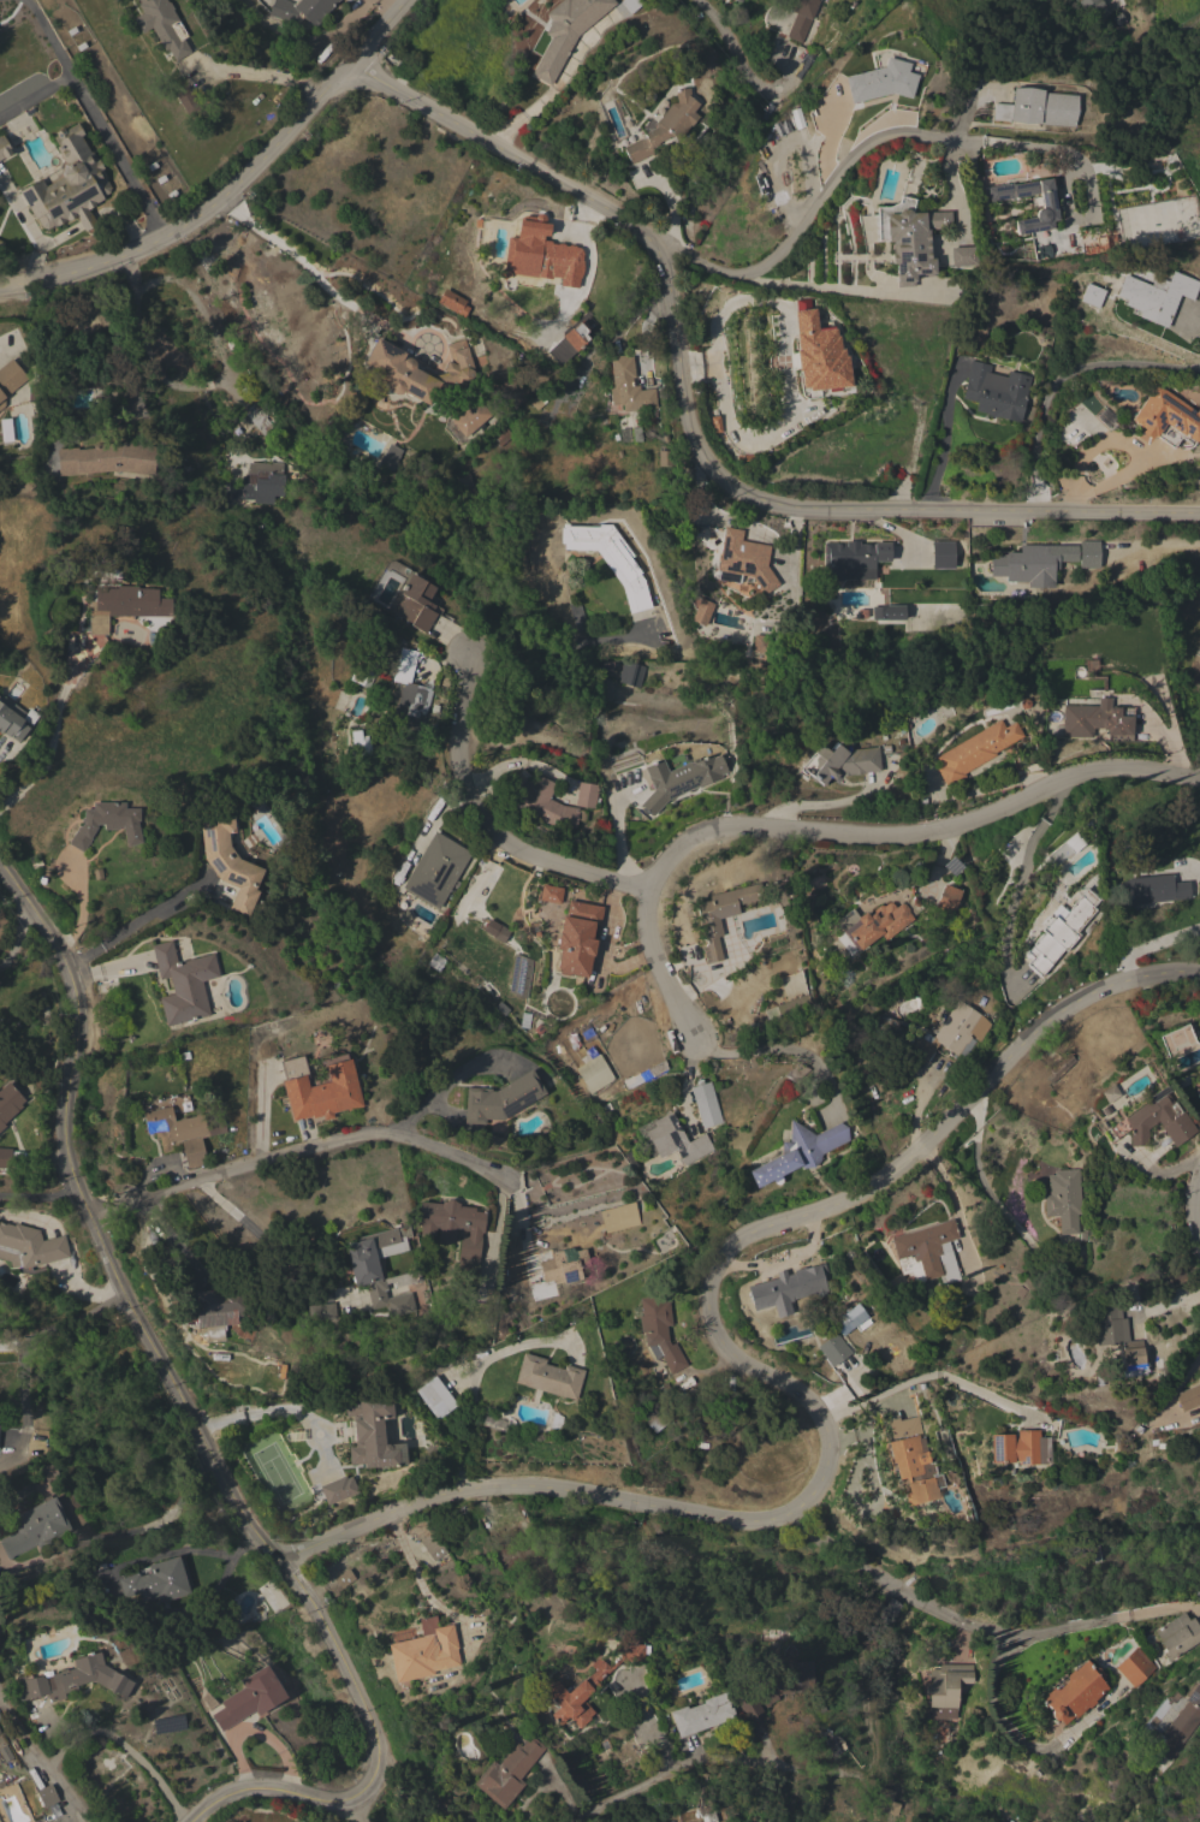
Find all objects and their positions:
road: (1118, 4)
building: (1094, 10)
building: (301, 11)
building: (801, 18)
building: (162, 25)
building: (563, 34)
road: (48, 40)
road: (727, 47)
building: (881, 81)
building: (186, 100)
building: (1036, 108)
road: (97, 121)
building: (665, 125)
road: (822, 125)
road: (789, 138)
road: (868, 142)
building: (4, 148)
building: (69, 184)
road: (233, 188)
building: (1047, 204)
road: (806, 210)
building: (910, 242)
building: (1, 243)
building: (543, 255)
building: (961, 256)
road: (311, 268)
road: (849, 290)
building: (1093, 295)
building: (1157, 295)
road: (195, 301)
building: (453, 302)
building: (107, 311)
building: (575, 336)
road: (91, 338)
building: (819, 354)
building: (398, 370)
building: (10, 379)
road: (1064, 382)
building: (626, 386)
building: (996, 391)
building: (1106, 416)
building: (257, 417)
building: (470, 417)
building: (1166, 417)
building: (500, 435)
road: (690, 435)
road: (945, 443)
building: (388, 457)
building: (664, 457)
building: (107, 458)
building: (259, 482)
building: (462, 491)
building: (941, 554)
building: (1089, 554)
building: (610, 558)
building: (853, 559)
building: (743, 560)
building: (1033, 563)
building: (416, 601)
building: (124, 605)
building: (701, 611)
building: (887, 612)
building: (577, 617)
building: (760, 643)
road: (556, 645)
building: (369, 658)
building: (630, 673)
building: (409, 695)
building: (14, 718)
building: (1095, 719)
road: (52, 737)
building: (360, 744)
building: (975, 750)
building: (840, 761)
building: (423, 777)
building: (679, 779)
building: (587, 795)
building: (540, 800)
road: (809, 803)
building: (107, 823)
road: (486, 827)
road: (834, 830)
building: (1064, 849)
building: (228, 861)
building: (435, 870)
road: (1018, 880)
building: (1153, 889)
building: (549, 894)
building: (947, 900)
building: (721, 915)
road: (129, 924)
building: (878, 924)
building: (492, 930)
road: (17, 936)
building: (1057, 936)
building: (576, 938)
road: (1151, 945)
building: (519, 975)
building: (184, 984)
building: (785, 1009)
building: (954, 1032)
road: (784, 1051)
building: (291, 1067)
building: (594, 1074)
road: (451, 1086)
building: (1196, 1087)
building: (323, 1093)
building: (1107, 1093)
building: (500, 1098)
building: (8, 1102)
building: (706, 1104)
building: (1158, 1121)
building: (1117, 1128)
building: (182, 1133)
building: (677, 1141)
building: (800, 1152)
road: (298, 1153)
building: (5, 1157)
road: (40, 1193)
building: (1064, 1201)
road: (1195, 1209)
road: (957, 1215)
building: (618, 1217)
building: (455, 1230)
road: (263, 1239)
road: (174, 1242)
building: (29, 1246)
building: (927, 1252)
road: (59, 1256)
building: (556, 1270)
building: (364, 1275)
building: (789, 1287)
building: (221, 1304)
road: (1159, 1304)
building: (321, 1311)
building: (850, 1319)
building: (659, 1331)
building: (1115, 1331)
road: (38, 1334)
building: (833, 1349)
road: (756, 1375)
road: (934, 1376)
building: (548, 1377)
road: (1175, 1387)
building: (433, 1394)
building: (1188, 1397)
road: (261, 1413)
building: (652, 1416)
road: (192, 1418)
building: (373, 1434)
building: (1018, 1448)
building: (913, 1460)
building: (338, 1489)
road: (162, 1517)
building: (36, 1527)
building: (433, 1545)
building: (344, 1578)
building: (159, 1580)
road: (980, 1628)
building: (1177, 1634)
building: (423, 1651)
building: (1135, 1667)
building: (72, 1679)
building: (593, 1682)
building: (945, 1684)
building: (772, 1687)
building: (1075, 1692)
building: (249, 1698)
building: (701, 1714)
building: (1177, 1725)
road: (1021, 1740)
road: (120, 1744)
road: (41, 1767)
building: (507, 1771)
road: (414, 1785)
road: (636, 1786)
building: (47, 1796)
road: (565, 1798)
building: (884, 1802)
road: (358, 1808)
building: (700, 1814)

